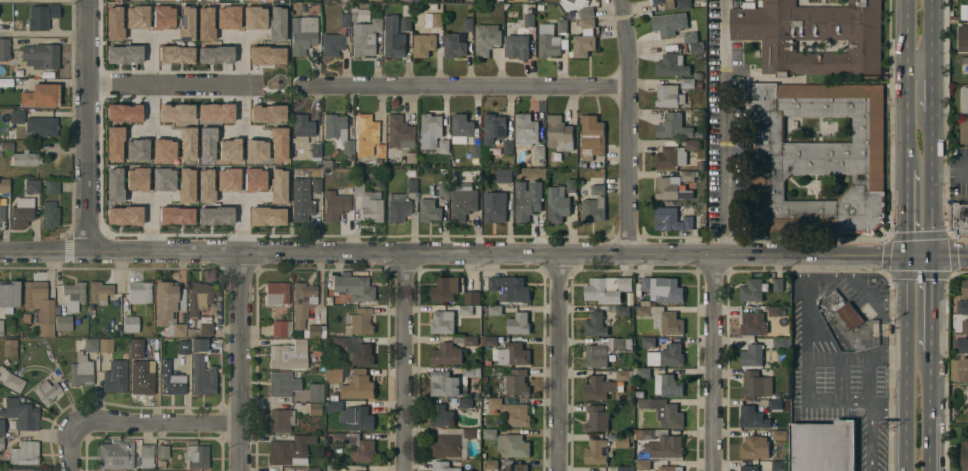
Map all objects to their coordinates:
building: (376, 0)
building: (415, 1)
building: (538, 1)
building: (578, 2)
building: (666, 4)
building: (683, 4)
building: (964, 12)
building: (587, 13)
building: (362, 15)
building: (42, 16)
building: (136, 17)
building: (163, 17)
building: (227, 17)
building: (254, 17)
building: (344, 17)
building: (433, 20)
building: (114, 23)
building: (185, 23)
building: (205, 23)
building: (277, 23)
building: (588, 24)
building: (669, 24)
building: (406, 25)
building: (562, 27)
road: (46, 32)
building: (303, 33)
road: (930, 33)
building: (522, 35)
building: (812, 36)
building: (365, 37)
building: (393, 38)
building: (690, 38)
building: (487, 39)
building: (459, 40)
building: (548, 41)
building: (332, 44)
building: (424, 45)
building: (583, 45)
building: (965, 46)
building: (4, 49)
building: (176, 54)
building: (215, 54)
building: (124, 55)
building: (267, 55)
building: (41, 56)
building: (964, 61)
building: (672, 65)
road: (919, 67)
building: (698, 76)
building: (687, 83)
road: (906, 84)
road: (174, 85)
road: (463, 87)
road: (931, 89)
building: (41, 95)
building: (669, 96)
building: (965, 100)
building: (175, 112)
building: (215, 112)
building: (125, 113)
building: (267, 113)
building: (18, 116)
road: (91, 125)
building: (302, 125)
building: (430, 125)
building: (37, 126)
building: (494, 126)
building: (673, 127)
building: (461, 128)
road: (628, 128)
road: (724, 128)
building: (526, 130)
building: (338, 131)
building: (964, 131)
building: (400, 133)
building: (366, 134)
building: (560, 134)
building: (699, 135)
building: (592, 137)
building: (114, 143)
building: (187, 144)
building: (206, 144)
building: (278, 144)
building: (692, 145)
building: (6, 146)
building: (443, 146)
building: (508, 147)
building: (137, 150)
building: (163, 150)
building: (229, 150)
building: (256, 151)
building: (316, 151)
building: (476, 151)
building: (380, 152)
building: (539, 153)
building: (671, 156)
building: (555, 157)
building: (25, 158)
building: (817, 158)
building: (582, 165)
road: (949, 172)
building: (504, 176)
building: (688, 176)
building: (136, 179)
building: (163, 179)
building: (228, 179)
building: (254, 180)
building: (114, 185)
building: (186, 185)
building: (316, 185)
building: (412, 185)
road: (931, 185)
building: (32, 186)
building: (52, 186)
building: (205, 186)
building: (278, 186)
building: (571, 186)
building: (4, 187)
building: (443, 187)
building: (671, 189)
building: (598, 190)
building: (301, 200)
building: (527, 200)
building: (336, 203)
building: (368, 203)
building: (463, 203)
building: (557, 206)
building: (495, 207)
building: (398, 210)
building: (594, 210)
building: (429, 211)
building: (22, 212)
building: (2, 214)
road: (906, 214)
building: (50, 215)
building: (124, 215)
building: (175, 215)
building: (215, 216)
building: (267, 216)
building: (958, 219)
building: (671, 220)
road: (483, 255)
traffic signals: (906, 259)
traffic signals: (931, 259)
building: (778, 285)
building: (638, 286)
building: (352, 287)
building: (965, 288)
building: (510, 289)
building: (663, 289)
building: (610, 290)
building: (751, 290)
building: (441, 291)
building: (100, 292)
building: (140, 292)
building: (276, 294)
building: (9, 295)
building: (73, 295)
building: (199, 297)
building: (472, 298)
building: (328, 300)
building: (169, 302)
building: (303, 302)
building: (345, 302)
road: (930, 304)
building: (40, 305)
building: (91, 307)
building: (962, 307)
building: (102, 309)
building: (466, 310)
building: (495, 310)
building: (779, 311)
building: (623, 312)
building: (851, 314)
building: (322, 318)
building: (662, 319)
building: (359, 321)
building: (442, 322)
building: (64, 323)
building: (191, 323)
building: (518, 323)
building: (131, 324)
building: (752, 324)
building: (595, 325)
building: (204, 326)
building: (965, 327)
building: (1, 328)
building: (281, 328)
building: (177, 330)
building: (316, 331)
building: (470, 341)
building: (491, 342)
building: (648, 342)
building: (618, 343)
building: (782, 343)
building: (199, 344)
building: (90, 345)
building: (105, 345)
building: (960, 345)
building: (10, 347)
building: (184, 347)
building: (356, 350)
building: (289, 354)
building: (446, 354)
building: (513, 354)
building: (596, 356)
building: (667, 356)
building: (752, 356)
road: (243, 362)
road: (405, 362)
building: (488, 363)
road: (560, 364)
road: (715, 364)
road: (905, 364)
road: (805, 365)
building: (80, 370)
building: (955, 370)
building: (964, 370)
building: (471, 373)
building: (643, 374)
building: (334, 375)
building: (624, 375)
building: (115, 376)
building: (203, 377)
building: (172, 379)
building: (10, 380)
building: (142, 383)
building: (513, 383)
building: (282, 384)
building: (444, 384)
building: (668, 385)
building: (756, 385)
building: (357, 386)
building: (599, 388)
building: (47, 391)
building: (316, 392)
building: (485, 394)
building: (466, 404)
building: (775, 405)
building: (315, 409)
road: (928, 409)
building: (507, 410)
building: (663, 412)
building: (21, 413)
road: (887, 413)
building: (353, 416)
building: (441, 416)
building: (751, 418)
building: (596, 419)
building: (281, 420)
road: (158, 423)
building: (2, 427)
building: (472, 433)
building: (489, 435)
building: (779, 436)
building: (622, 441)
road: (870, 442)
building: (1, 443)
building: (661, 443)
building: (356, 446)
building: (447, 446)
building: (512, 446)
building: (823, 446)
road: (73, 447)
building: (754, 448)
building: (162, 451)
building: (288, 451)
building: (24, 453)
building: (595, 453)
building: (964, 454)
building: (115, 455)
building: (146, 455)
building: (196, 456)
building: (490, 465)
building: (443, 466)
building: (643, 466)
building: (778, 466)
building: (334, 468)
building: (516, 468)
building: (624, 468)
building: (667, 468)
building: (754, 468)
building: (313, 469)
building: (28, 470)

